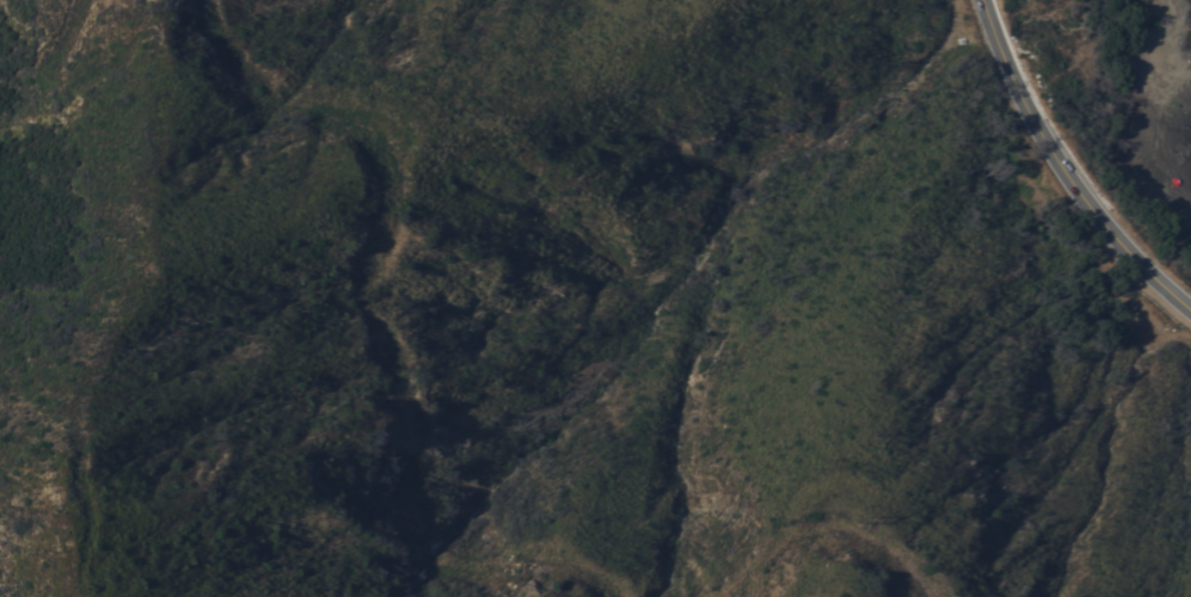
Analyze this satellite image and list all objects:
road: (36, 44)
road: (1064, 170)

